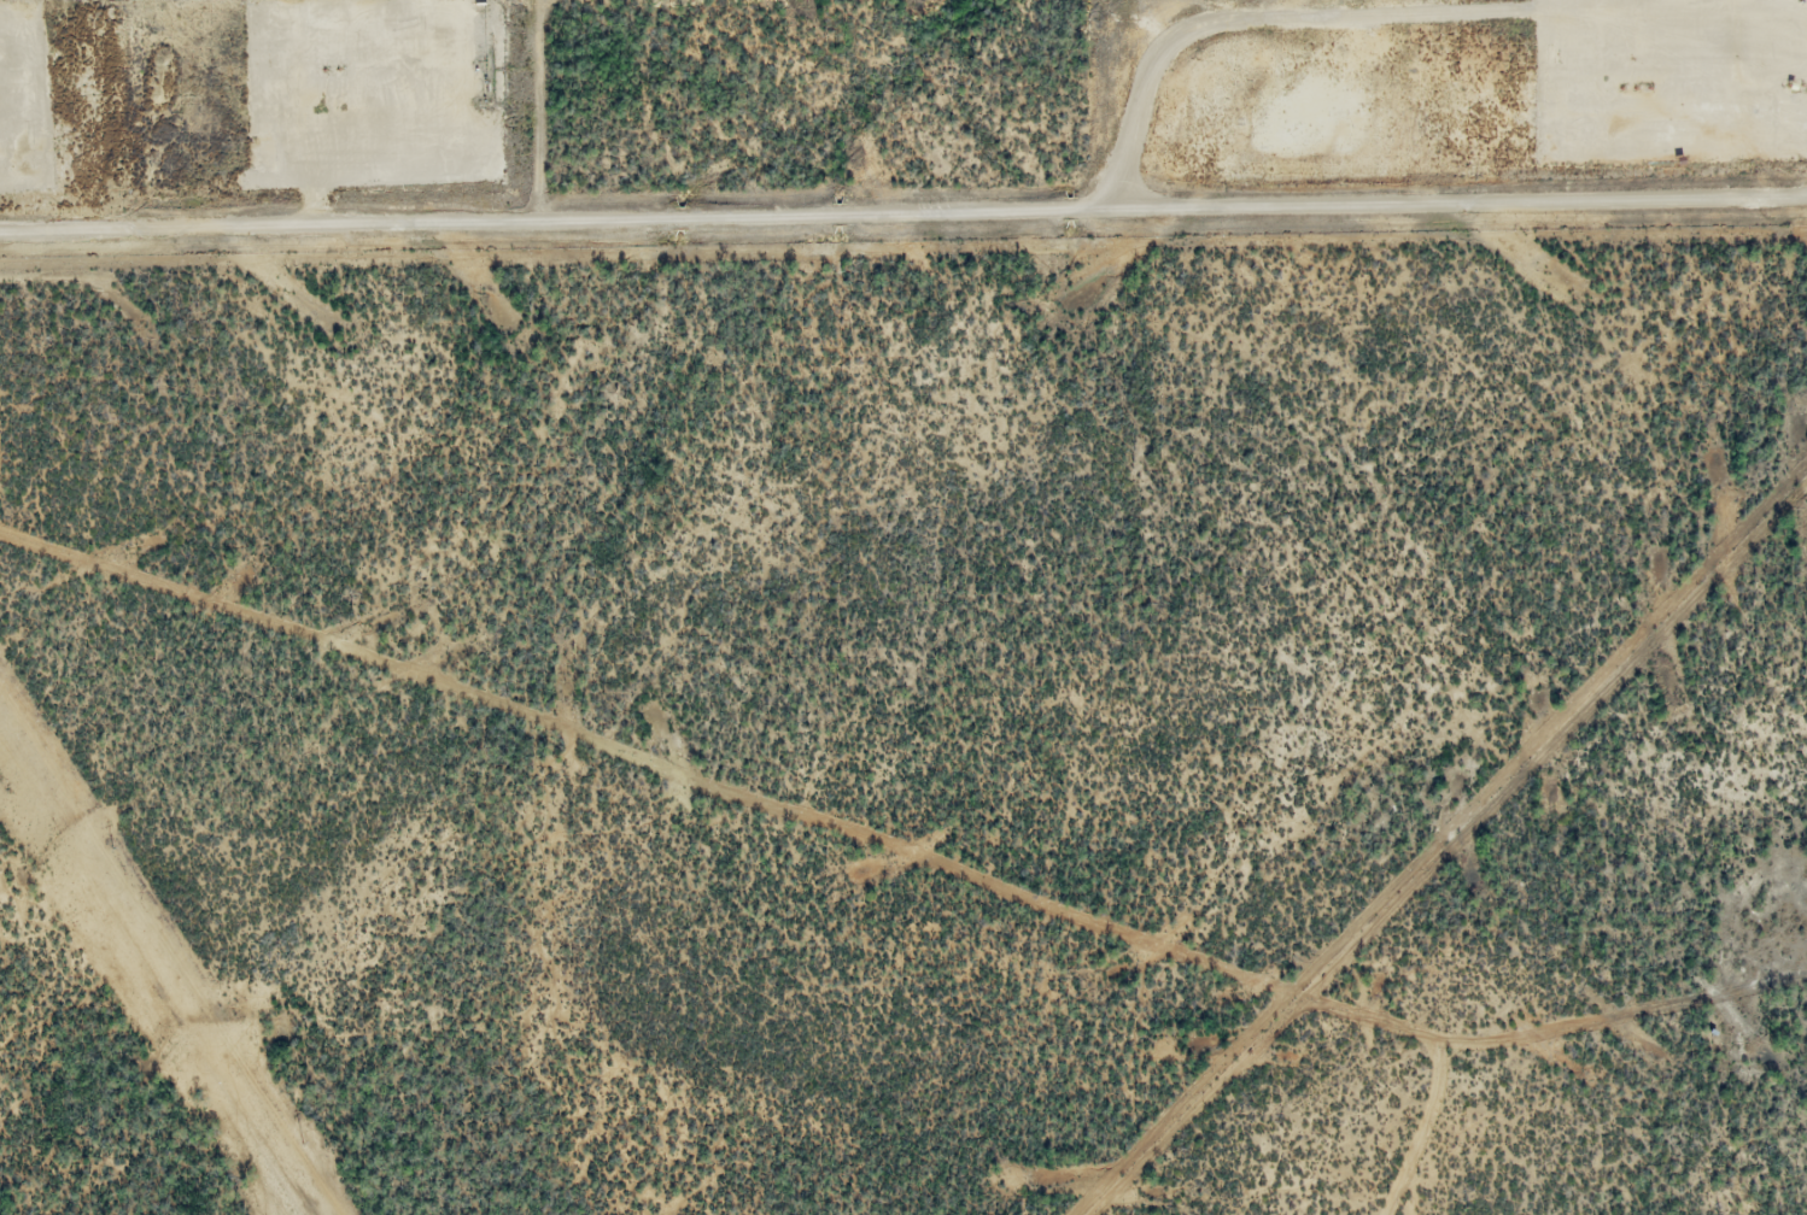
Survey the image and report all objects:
power tower: (110, 846)
power tower: (300, 1140)

